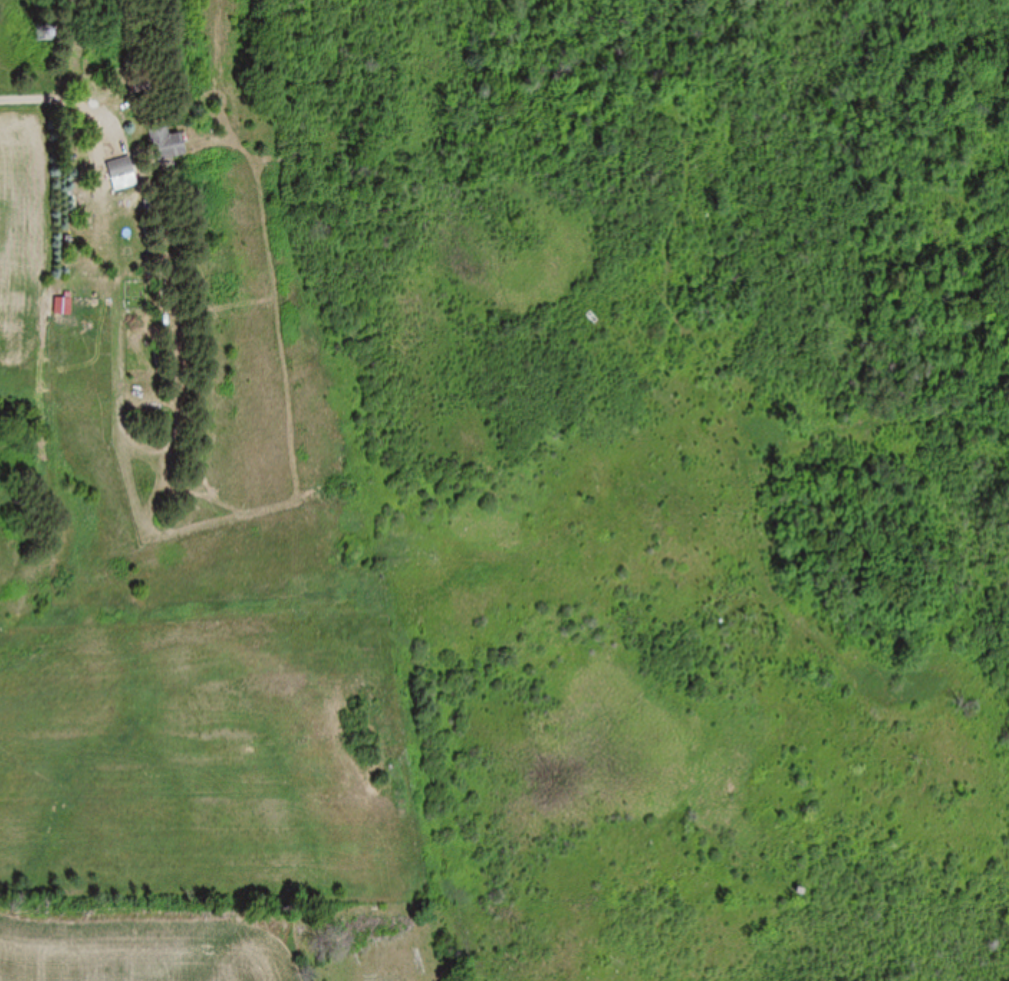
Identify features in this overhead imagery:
building: (41, 34)
building: (165, 145)
building: (120, 170)
road: (190, 186)

